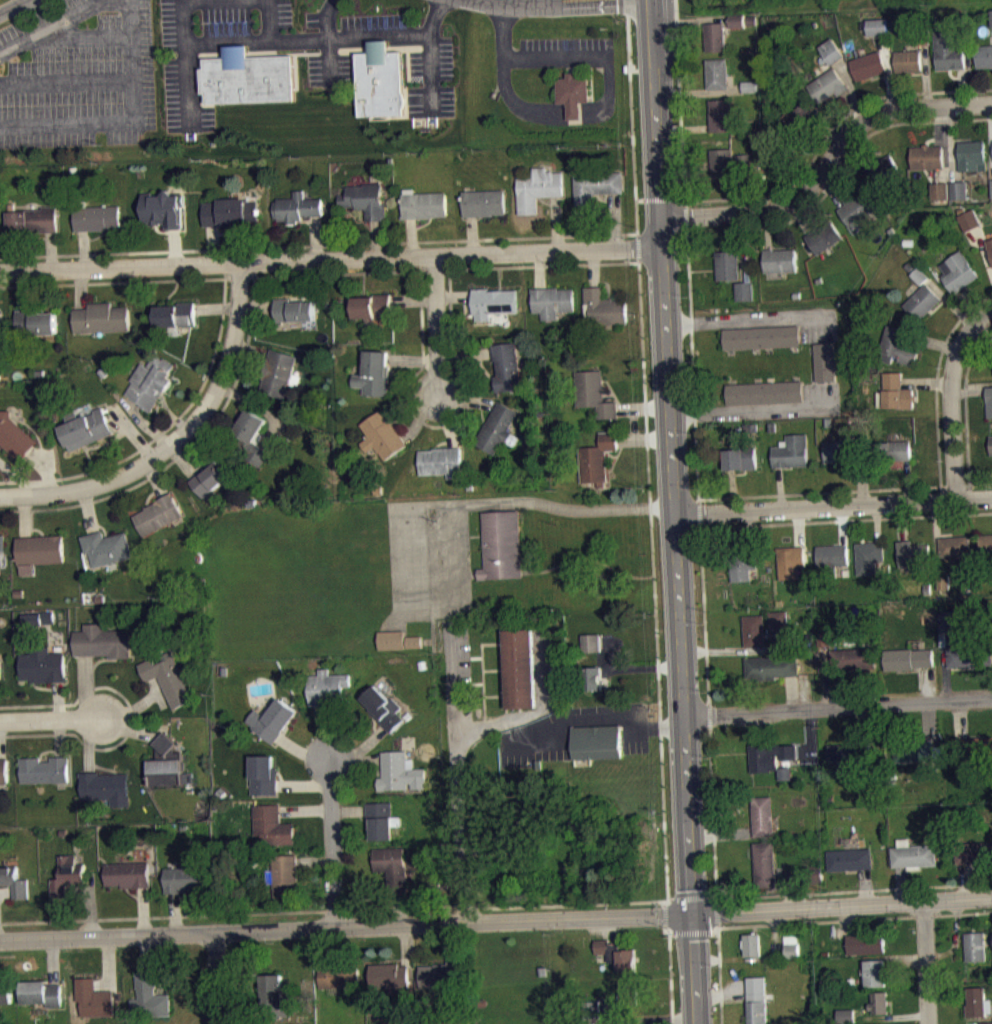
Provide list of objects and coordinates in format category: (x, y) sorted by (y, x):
road: (546, 0)
road: (567, 0)
road: (10, 5)
building: (991, 16)
road: (687, 19)
building: (736, 19)
road: (267, 20)
road: (51, 25)
building: (877, 25)
building: (737, 26)
road: (72, 34)
building: (715, 35)
building: (921, 35)
road: (327, 37)
road: (306, 39)
parking lot: (564, 49)
building: (831, 50)
building: (949, 50)
road: (591, 51)
road: (429, 52)
building: (984, 54)
road: (184, 58)
road: (129, 59)
building: (908, 59)
building: (868, 64)
parking lot: (328, 66)
road: (888, 70)
building: (717, 72)
parking lot: (179, 73)
road: (926, 74)
parking lot: (77, 75)
building: (248, 77)
road: (65, 80)
road: (502, 80)
building: (381, 81)
building: (827, 84)
building: (749, 85)
road: (962, 85)
road: (852, 88)
road: (697, 91)
building: (573, 92)
road: (679, 100)
road: (574, 108)
building: (720, 114)
road: (991, 119)
road: (66, 121)
building: (795, 121)
road: (682, 127)
road: (826, 129)
road: (829, 131)
road: (952, 141)
road: (945, 142)
road: (858, 148)
building: (971, 153)
building: (928, 155)
building: (748, 160)
road: (826, 161)
building: (722, 162)
road: (838, 170)
building: (885, 171)
building: (991, 184)
building: (538, 187)
building: (595, 188)
building: (959, 188)
road: (829, 189)
building: (940, 189)
road: (744, 190)
road: (668, 198)
road: (680, 198)
building: (365, 199)
building: (483, 202)
building: (423, 204)
building: (296, 207)
building: (163, 208)
building: (857, 209)
building: (230, 211)
road: (689, 215)
building: (96, 217)
road: (799, 217)
building: (970, 218)
building: (33, 219)
road: (614, 219)
road: (557, 221)
road: (767, 229)
road: (471, 234)
road: (554, 236)
building: (824, 236)
road: (315, 237)
road: (410, 237)
road: (375, 238)
road: (211, 244)
building: (990, 245)
road: (742, 246)
road: (235, 247)
road: (83, 248)
road: (49, 250)
road: (984, 250)
building: (990, 251)
road: (331, 259)
building: (780, 259)
road: (543, 264)
building: (727, 264)
road: (593, 266)
road: (538, 268)
building: (959, 270)
road: (350, 273)
building: (920, 275)
road: (111, 281)
road: (79, 287)
road: (22, 289)
building: (744, 289)
road: (454, 295)
road: (413, 300)
building: (552, 300)
building: (493, 301)
building: (923, 301)
road: (950, 302)
road: (968, 304)
building: (605, 306)
road: (256, 307)
building: (372, 307)
road: (216, 308)
building: (293, 310)
building: (176, 315)
building: (101, 317)
road: (748, 319)
building: (35, 322)
road: (436, 323)
road: (985, 329)
building: (762, 336)
road: (932, 340)
building: (897, 345)
road: (250, 349)
road: (464, 355)
road: (413, 359)
building: (825, 361)
building: (506, 366)
building: (279, 373)
building: (374, 374)
road: (937, 378)
building: (150, 381)
road: (926, 381)
road: (968, 390)
building: (764, 391)
building: (894, 391)
building: (594, 392)
road: (951, 397)
road: (467, 399)
building: (989, 400)
road: (965, 401)
road: (254, 406)
road: (754, 413)
road: (419, 415)
road: (113, 418)
road: (446, 420)
road: (172, 422)
road: (143, 423)
road: (439, 425)
building: (84, 426)
building: (496, 427)
road: (132, 433)
road: (269, 433)
building: (381, 435)
building: (14, 436)
building: (251, 436)
road: (177, 438)
building: (991, 443)
road: (187, 447)
road: (647, 449)
building: (792, 450)
building: (844, 450)
building: (892, 450)
road: (672, 455)
building: (597, 457)
building: (741, 457)
road: (181, 460)
building: (441, 461)
road: (697, 466)
road: (44, 470)
road: (15, 476)
building: (209, 476)
road: (155, 478)
road: (907, 480)
road: (860, 481)
road: (779, 487)
road: (732, 489)
road: (845, 489)
road: (536, 500)
road: (833, 505)
road: (87, 510)
building: (158, 514)
road: (24, 515)
road: (845, 518)
road: (901, 520)
road: (877, 521)
road: (842, 524)
road: (798, 526)
road: (750, 529)
road: (936, 536)
building: (986, 540)
building: (2, 543)
building: (502, 544)
building: (954, 545)
building: (106, 548)
building: (40, 549)
building: (912, 553)
building: (868, 556)
building: (830, 559)
building: (790, 560)
building: (742, 563)
building: (0, 577)
building: (943, 580)
building: (17, 592)
building: (100, 598)
building: (47, 617)
building: (31, 618)
building: (778, 618)
building: (947, 619)
building: (39, 624)
building: (754, 630)
building: (823, 637)
building: (390, 639)
building: (413, 640)
building: (591, 641)
building: (103, 642)
building: (415, 648)
road: (736, 648)
building: (969, 654)
building: (852, 657)
building: (907, 657)
road: (944, 664)
building: (44, 665)
road: (634, 666)
building: (772, 666)
building: (518, 667)
building: (0, 676)
road: (825, 676)
building: (592, 677)
building: (169, 678)
road: (926, 683)
building: (327, 687)
road: (111, 688)
road: (86, 689)
road: (791, 692)
road: (159, 696)
road: (58, 701)
road: (136, 706)
road: (837, 706)
building: (383, 708)
road: (708, 714)
road: (596, 716)
road: (960, 717)
road: (51, 720)
road: (927, 720)
building: (273, 721)
road: (860, 723)
road: (130, 729)
road: (323, 733)
road: (37, 734)
parking lot: (534, 735)
road: (810, 736)
road: (60, 738)
road: (0, 740)
building: (596, 741)
road: (88, 743)
building: (972, 746)
road: (359, 748)
building: (913, 749)
road: (302, 752)
building: (848, 752)
building: (771, 757)
road: (355, 763)
building: (168, 765)
building: (45, 770)
building: (3, 771)
building: (400, 773)
building: (263, 775)
road: (457, 777)
building: (785, 779)
road: (304, 785)
building: (106, 788)
road: (348, 810)
road: (305, 811)
road: (713, 811)
building: (762, 815)
building: (381, 820)
building: (272, 825)
road: (721, 832)
road: (332, 843)
building: (973, 851)
building: (914, 854)
building: (850, 858)
road: (315, 860)
building: (765, 863)
building: (392, 867)
building: (814, 872)
building: (127, 874)
building: (282, 874)
building: (66, 875)
building: (185, 879)
road: (965, 880)
building: (14, 881)
road: (793, 882)
road: (900, 884)
road: (864, 886)
road: (77, 889)
road: (854, 889)
road: (6, 891)
road: (692, 893)
road: (566, 903)
road: (843, 904)
road: (90, 907)
road: (398, 908)
road: (720, 911)
road: (142, 912)
traffic signals: (694, 912)
road: (174, 913)
road: (232, 913)
road: (663, 913)
road: (855, 918)
road: (850, 919)
road: (346, 925)
road: (601, 927)
road: (693, 931)
road: (956, 938)
road: (455, 941)
building: (866, 943)
building: (752, 944)
road: (404, 945)
building: (792, 945)
building: (975, 945)
road: (325, 947)
road: (775, 952)
road: (144, 954)
building: (617, 954)
road: (7, 955)
road: (755, 957)
road: (53, 962)
road: (905, 962)
road: (925, 962)
road: (108, 964)
road: (695, 968)
building: (875, 972)
road: (670, 973)
building: (389, 975)
road: (720, 975)
building: (339, 976)
building: (442, 976)
road: (215, 978)
building: (42, 993)
building: (628, 993)
road: (722, 993)
building: (6, 994)
building: (275, 997)
building: (149, 998)
building: (94, 999)
building: (757, 1000)
building: (880, 1002)
building: (978, 1002)
building: (590, 1008)
road: (239, 1010)
building: (607, 1012)
road: (608, 1012)
building: (847, 1015)
road: (891, 1016)
road: (654, 1020)
road: (974, 1020)
building: (986, 1022)

